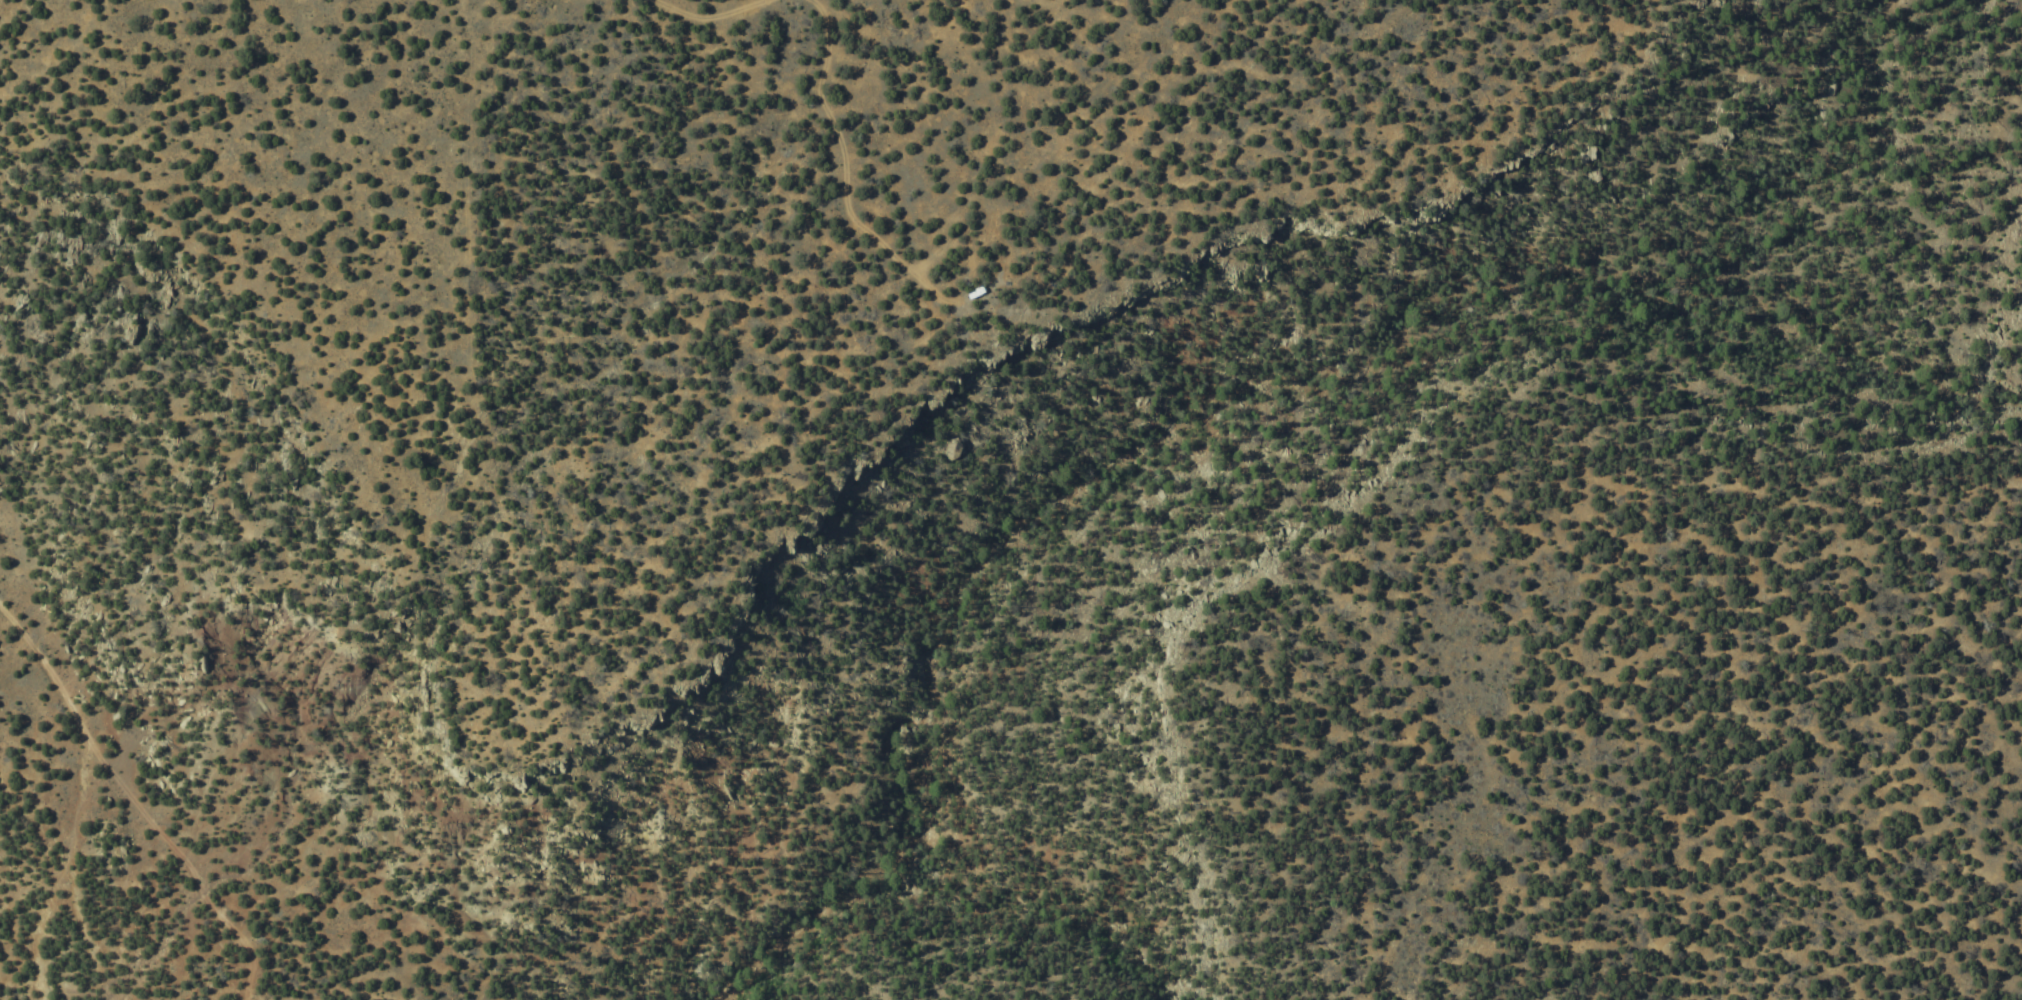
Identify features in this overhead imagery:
road: (77, 798)

